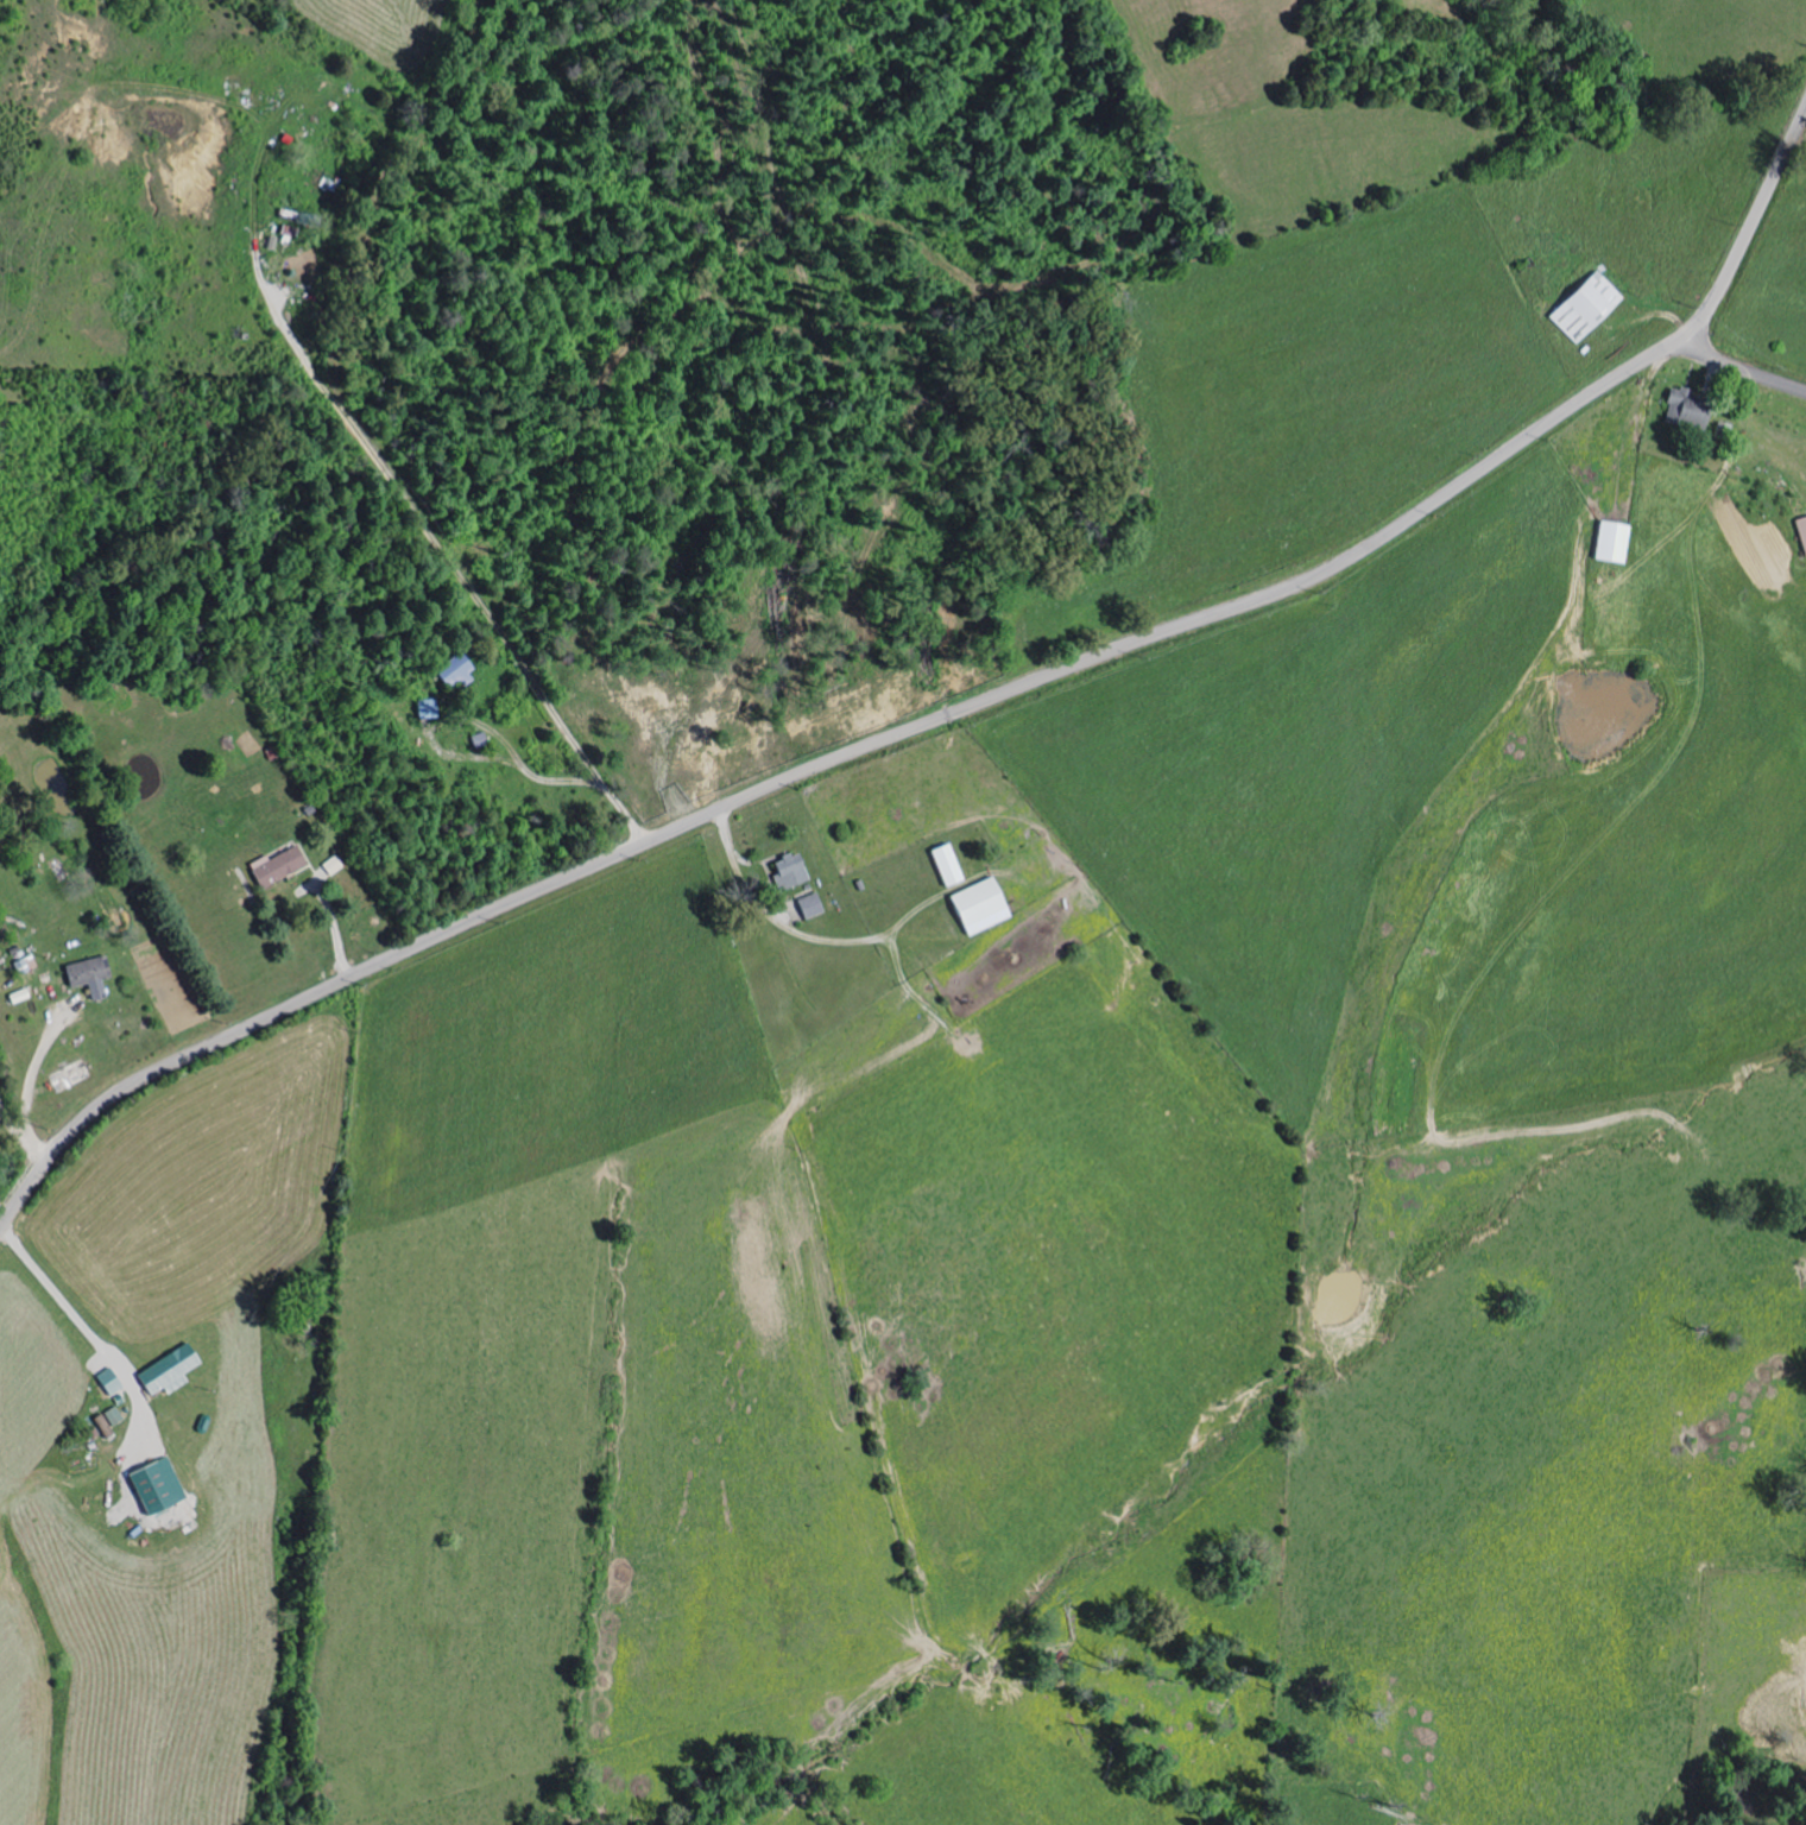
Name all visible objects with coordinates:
building: (1580, 305)
road: (1738, 371)
building: (1681, 410)
building: (1800, 533)
road: (434, 536)
building: (1608, 543)
building: (460, 670)
building: (430, 709)
road: (947, 715)
road: (737, 864)
building: (953, 865)
building: (283, 866)
building: (795, 872)
building: (814, 905)
building: (986, 905)
building: (91, 975)
road: (20, 1124)
road: (2, 1217)
road: (86, 1328)
building: (172, 1370)
building: (112, 1381)
building: (162, 1485)

